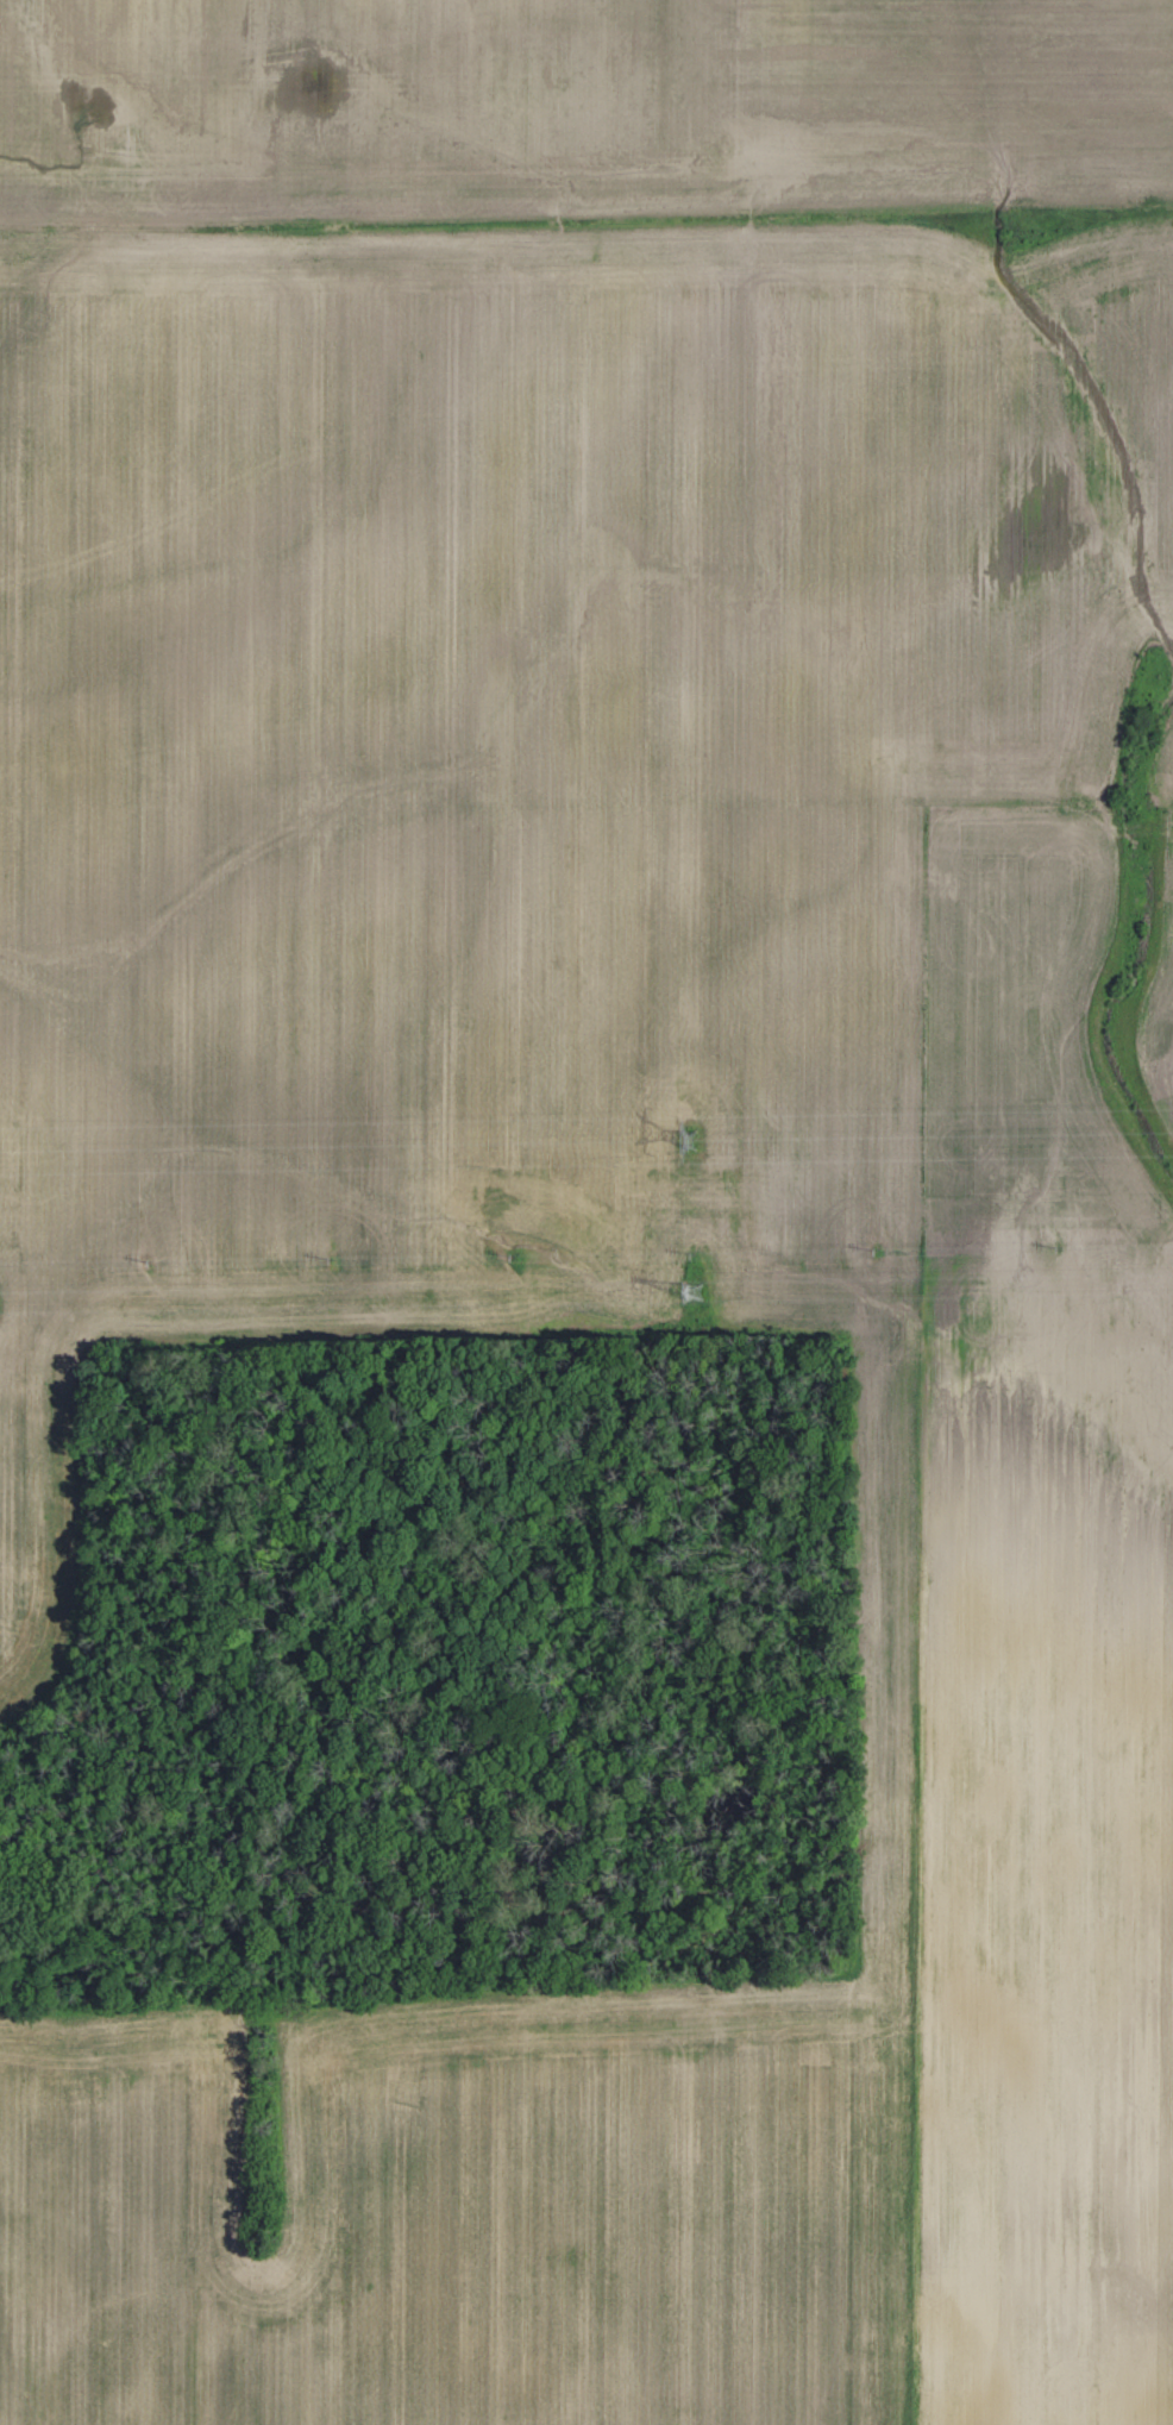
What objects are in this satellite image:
power tower: (688, 1142)
power tower: (695, 1295)

